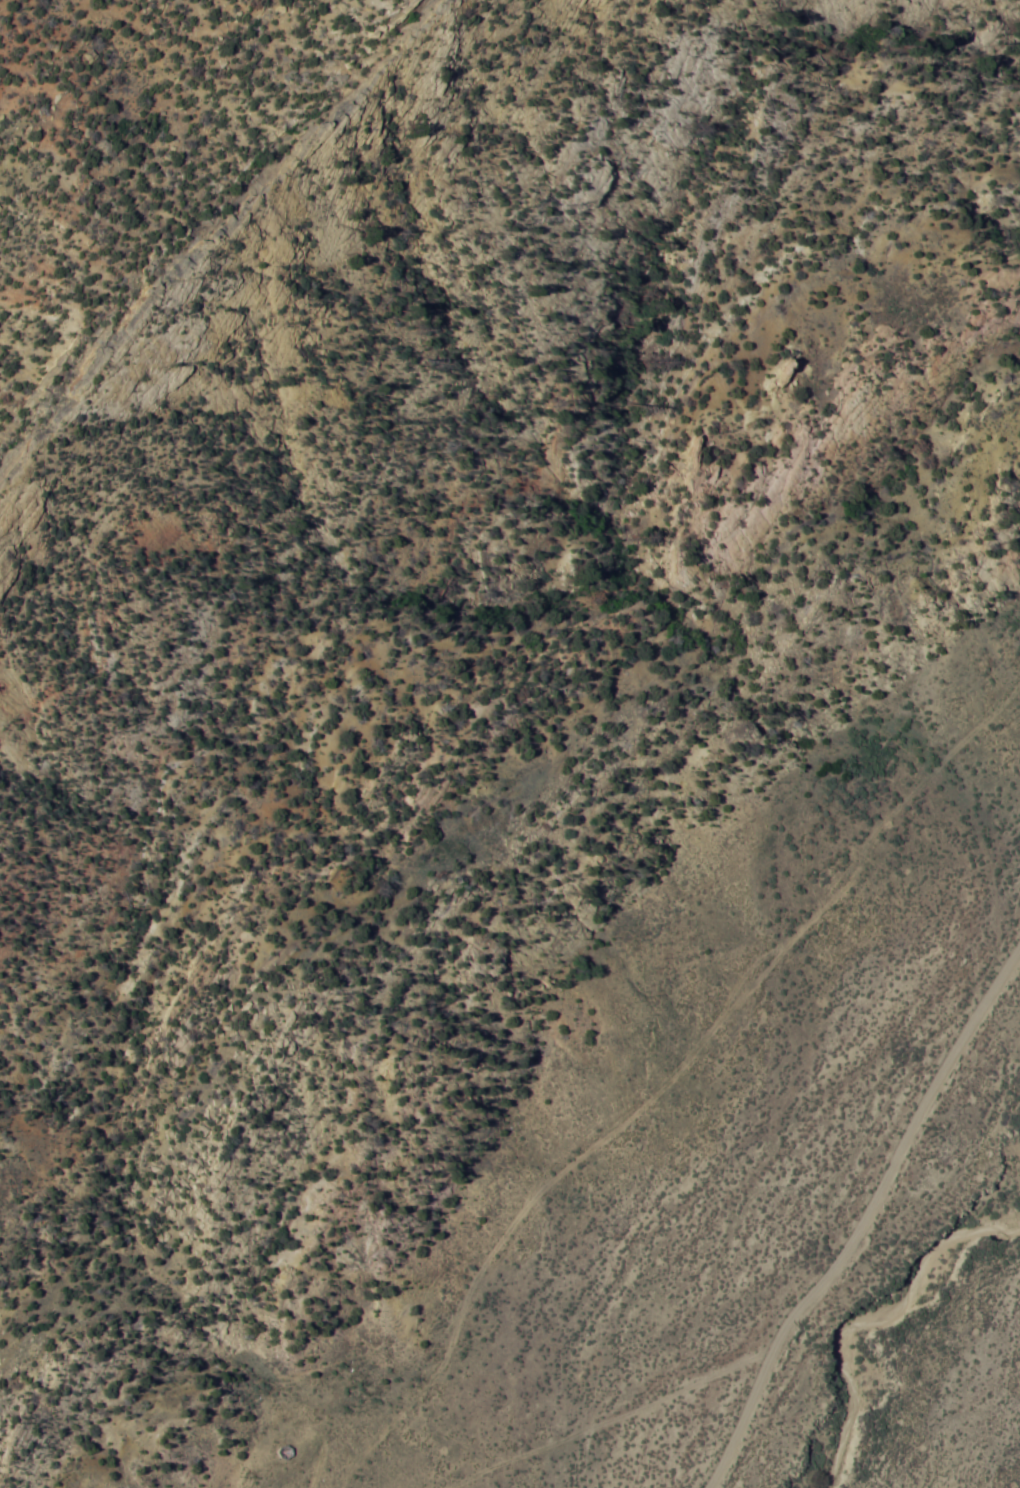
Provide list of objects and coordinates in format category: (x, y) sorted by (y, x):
road: (842, 1187)

